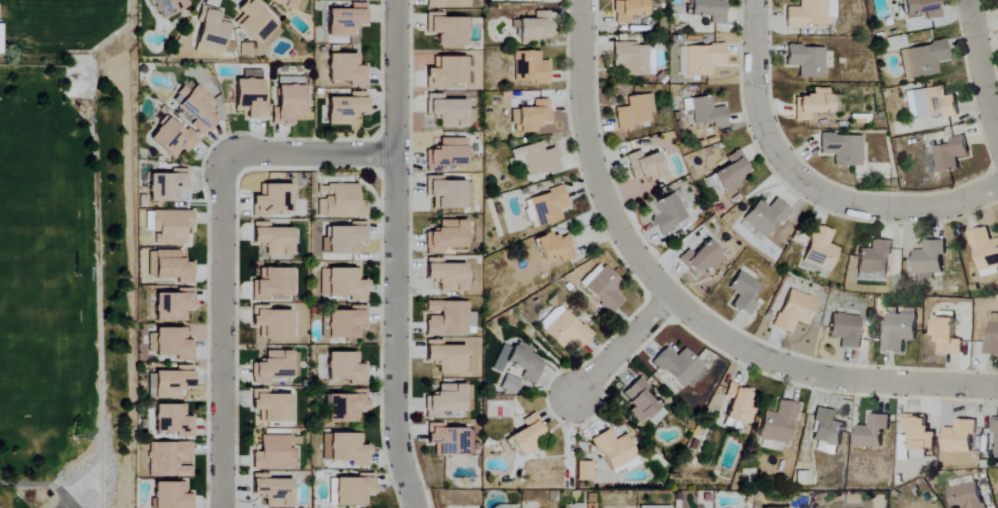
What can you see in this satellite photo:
building: (285, 3)
building: (447, 3)
building: (169, 6)
building: (923, 8)
building: (710, 9)
building: (629, 10)
building: (808, 14)
building: (254, 20)
building: (346, 20)
building: (534, 28)
building: (447, 29)
building: (210, 32)
building: (251, 49)
building: (631, 58)
building: (704, 59)
building: (923, 59)
building: (806, 60)
building: (682, 61)
building: (530, 67)
building: (346, 69)
road: (979, 69)
building: (447, 72)
building: (249, 98)
building: (287, 103)
building: (931, 103)
building: (194, 104)
building: (813, 104)
building: (346, 108)
building: (447, 111)
building: (633, 112)
building: (705, 112)
building: (530, 117)
building: (172, 138)
building: (843, 149)
road: (311, 154)
building: (951, 154)
building: (446, 155)
building: (536, 159)
building: (646, 165)
park: (8, 172)
building: (732, 172)
road: (805, 183)
building: (167, 185)
building: (449, 193)
building: (271, 199)
building: (341, 202)
building: (548, 206)
building: (667, 212)
building: (766, 217)
building: (170, 227)
building: (446, 237)
building: (273, 239)
building: (344, 239)
building: (555, 247)
building: (821, 250)
building: (985, 252)
road: (394, 255)
building: (874, 258)
building: (929, 258)
building: (701, 259)
building: (169, 266)
park: (65, 268)
building: (447, 275)
park: (36, 283)
building: (271, 283)
building: (343, 284)
building: (602, 287)
building: (744, 293)
building: (172, 305)
road: (680, 306)
building: (795, 311)
building: (450, 319)
building: (346, 323)
building: (270, 324)
building: (564, 329)
road: (222, 330)
building: (846, 330)
building: (899, 331)
building: (946, 334)
building: (992, 340)
building: (171, 343)
road: (619, 347)
building: (448, 358)
building: (525, 362)
building: (270, 366)
building: (679, 367)
building: (346, 368)
park: (36, 377)
building: (170, 383)
building: (510, 385)
building: (447, 400)
building: (643, 403)
building: (271, 407)
building: (345, 407)
building: (738, 408)
building: (171, 420)
building: (778, 424)
building: (995, 426)
building: (872, 431)
building: (827, 432)
building: (919, 432)
building: (528, 435)
building: (960, 437)
building: (449, 441)
building: (345, 449)
building: (615, 449)
building: (273, 453)
building: (168, 459)
building: (584, 471)
road: (42, 484)
park: (88, 484)
building: (271, 490)
building: (354, 490)
building: (170, 495)
building: (968, 496)
park: (4, 507)

